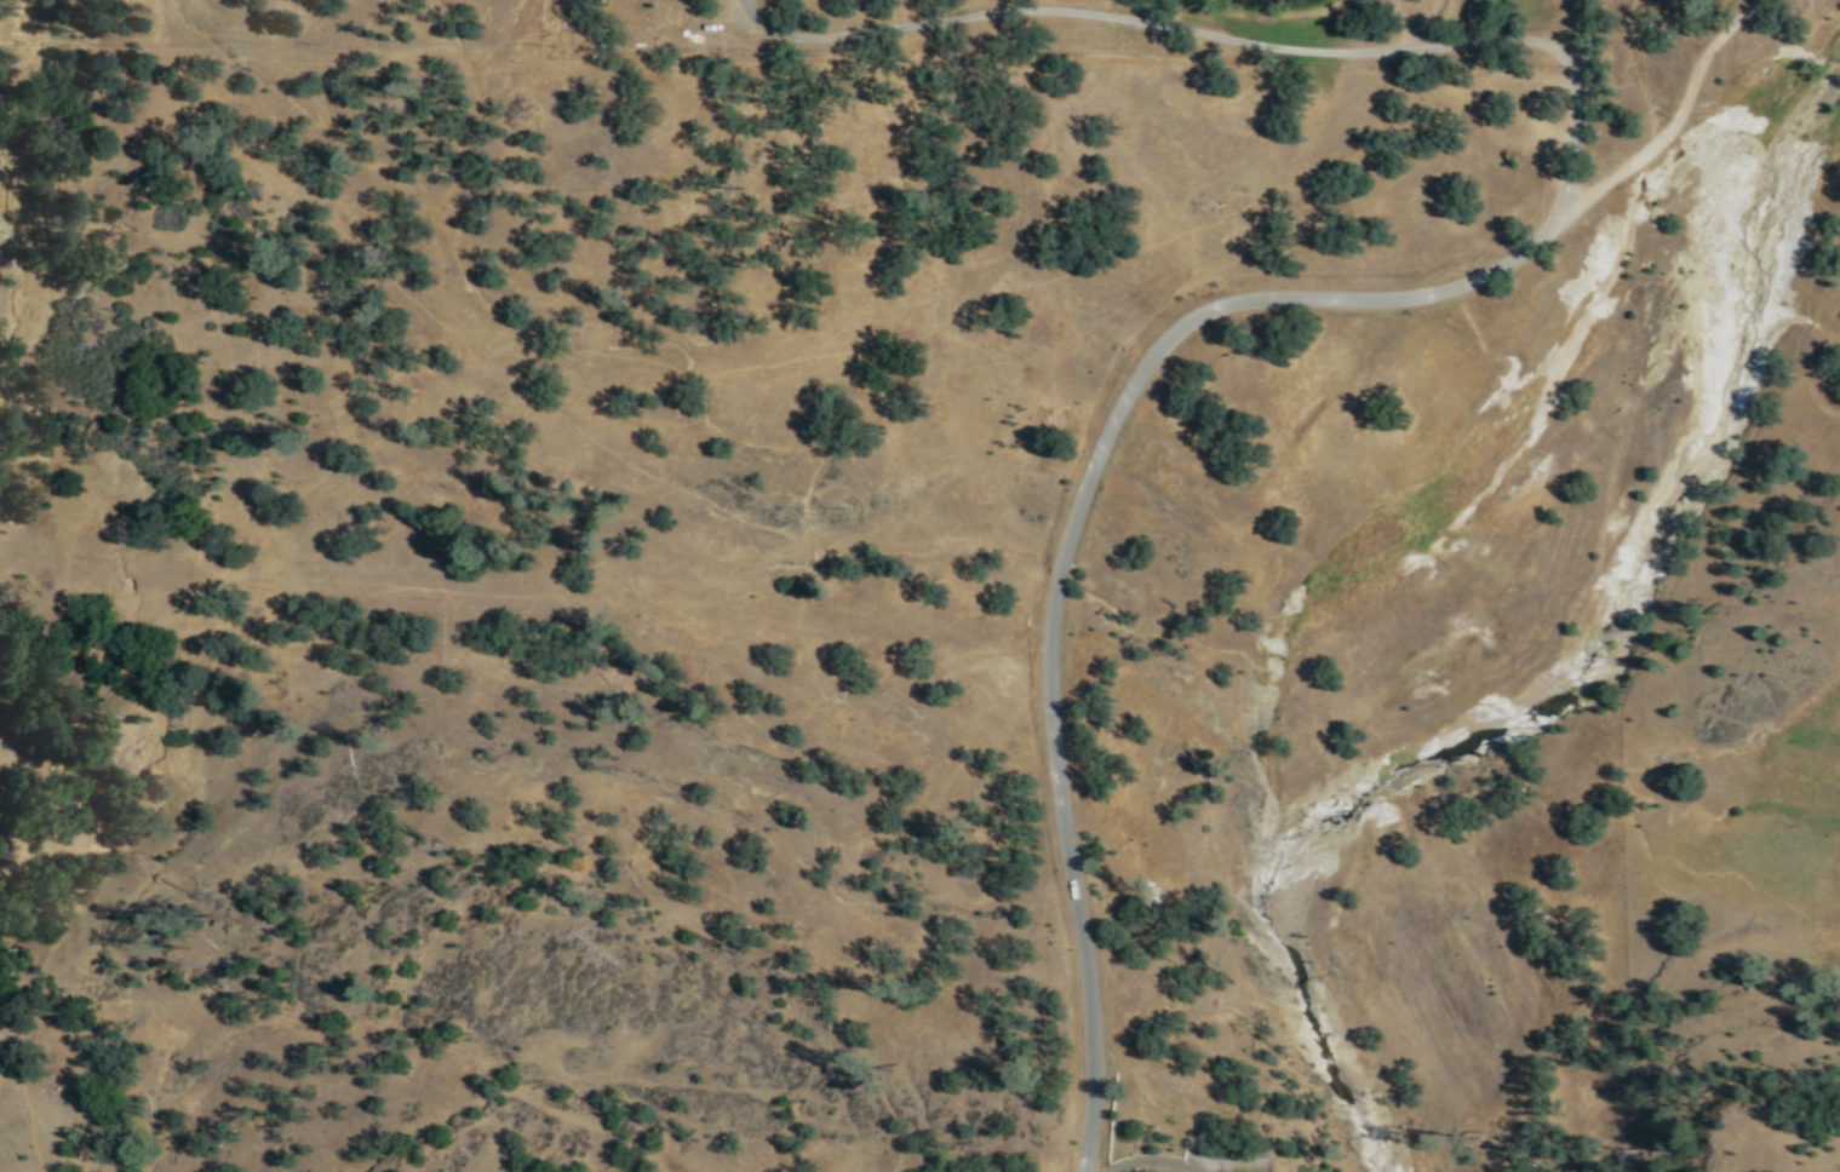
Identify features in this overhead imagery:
road: (1428, 17)
road: (1402, 18)
road: (1163, 22)
road: (1415, 44)
road: (1583, 102)
road: (1140, 393)
road: (1151, 1159)

